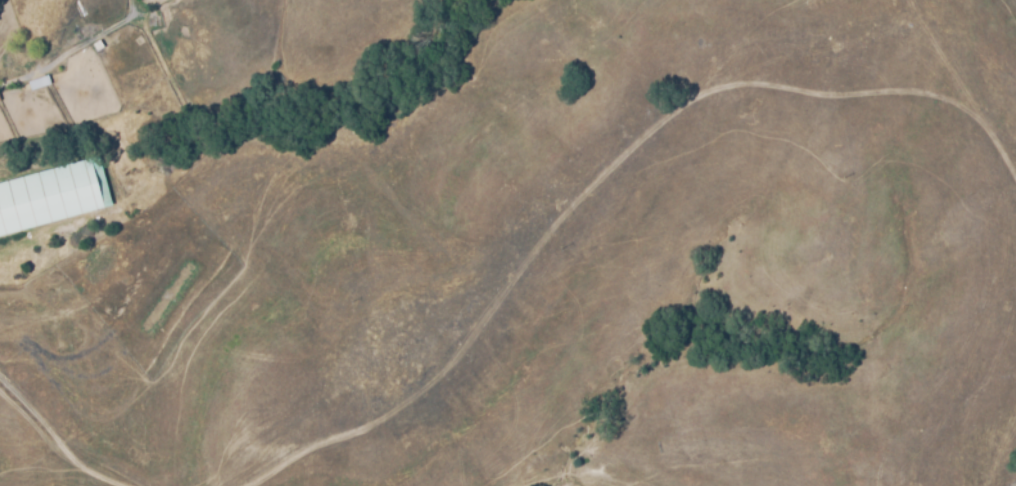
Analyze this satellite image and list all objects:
building: (151, 21)
building: (85, 32)
building: (97, 45)
building: (39, 81)
building: (52, 194)

